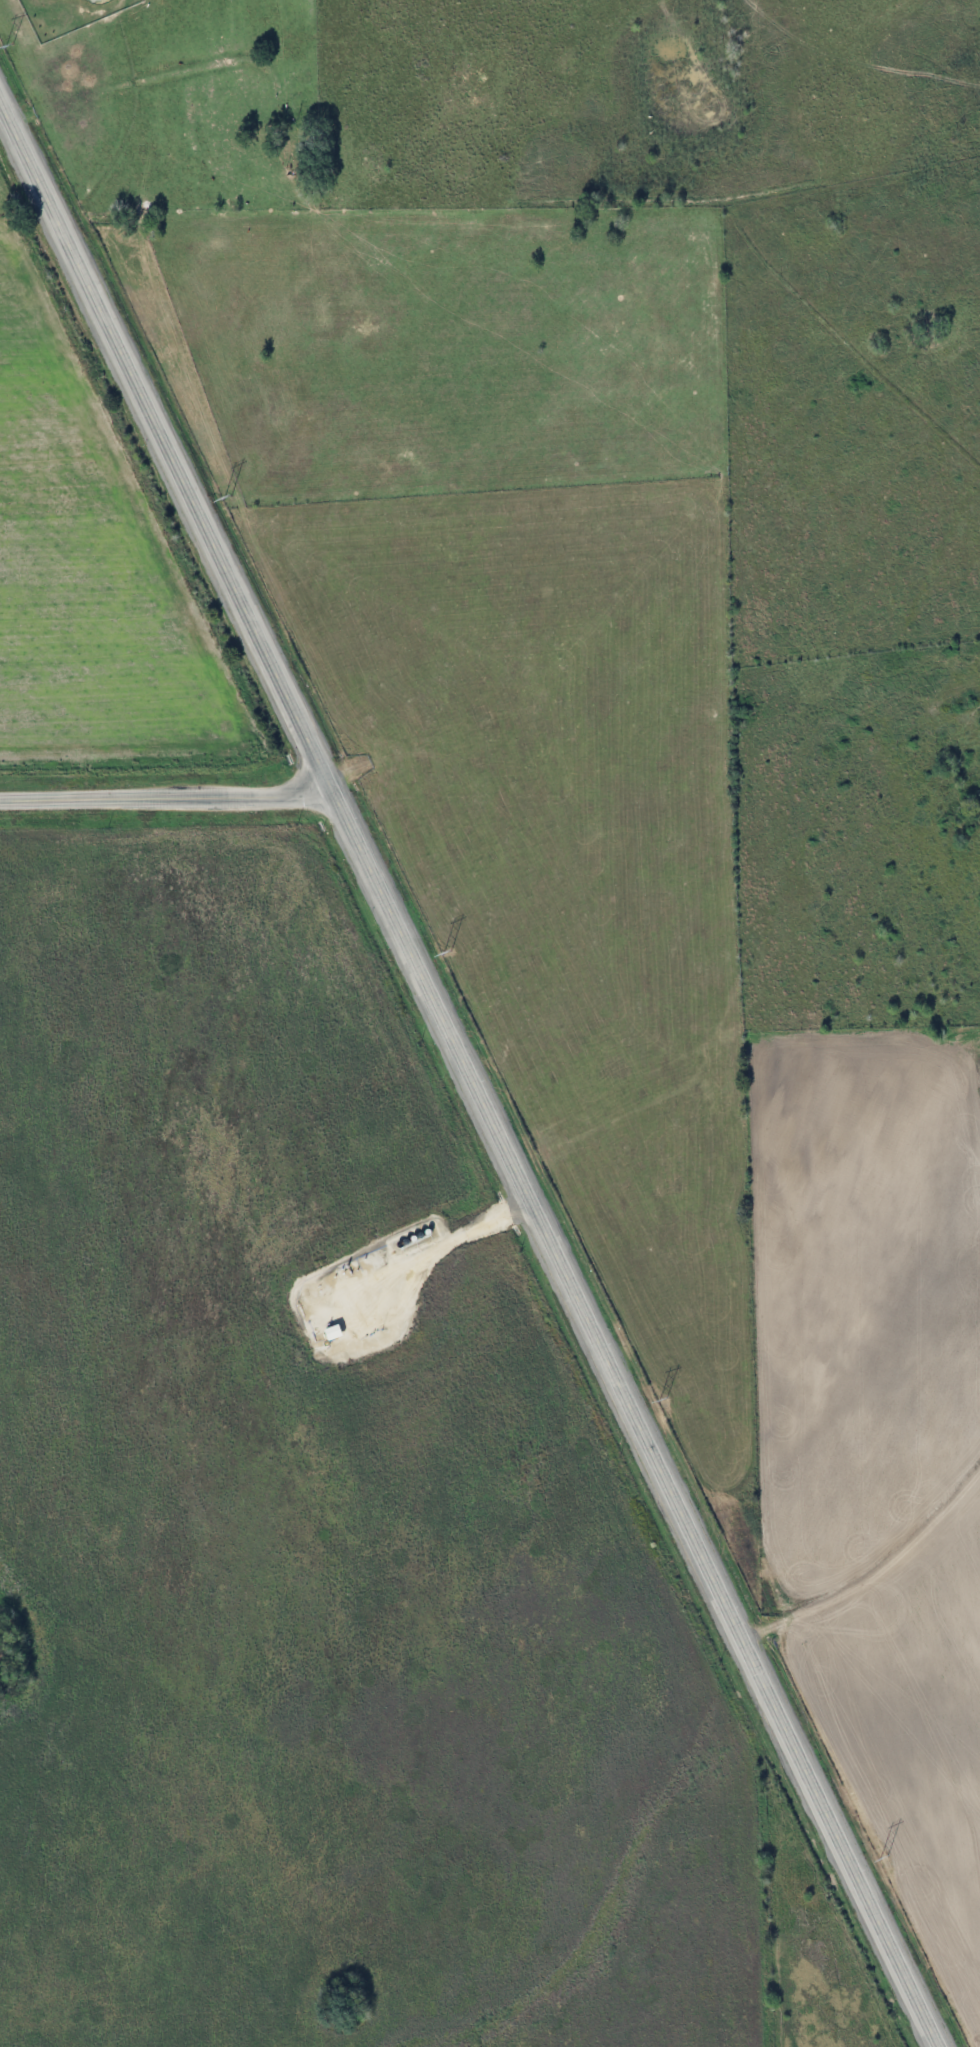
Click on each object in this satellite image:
power tower: (7, 46)
power tower: (226, 497)
road: (167, 799)
power tower: (446, 952)
road: (468, 1076)
road: (443, 1246)
building: (326, 1333)
power tower: (662, 1399)
power tower: (883, 1857)

